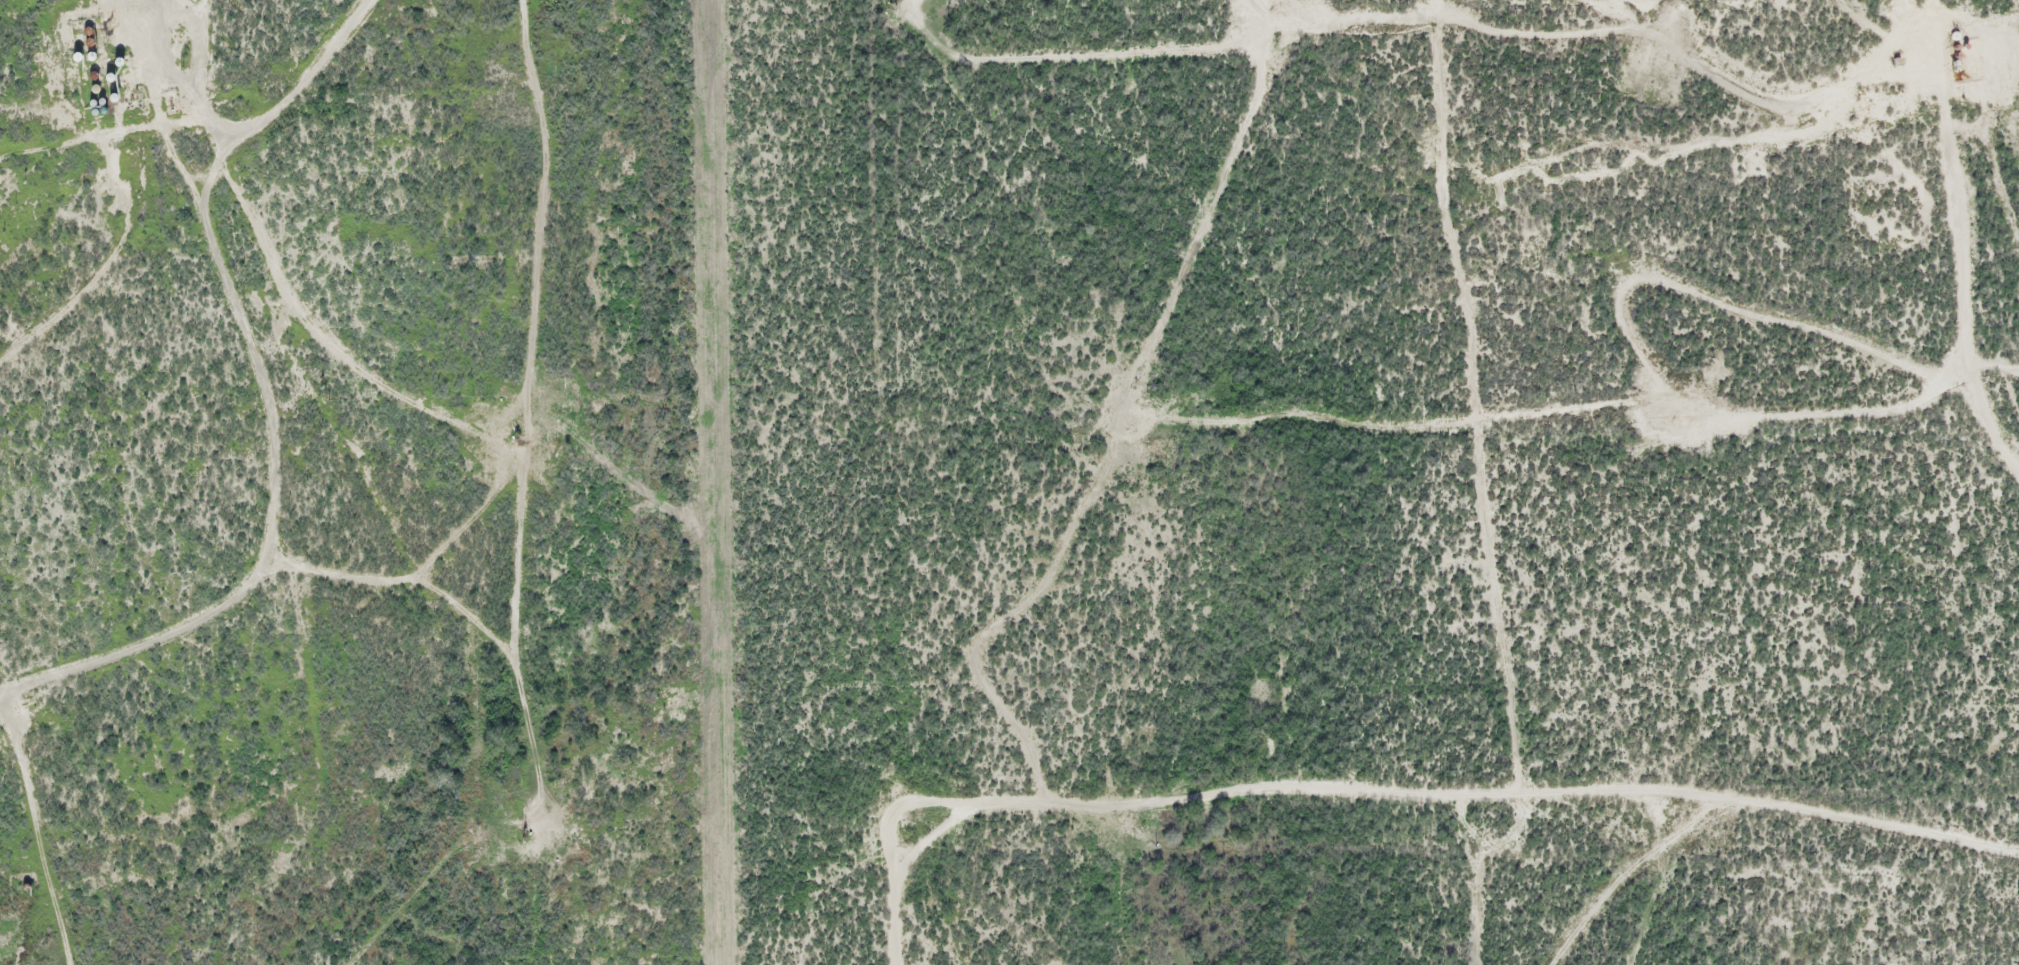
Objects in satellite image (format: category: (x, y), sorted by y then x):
road: (1936, 43)

